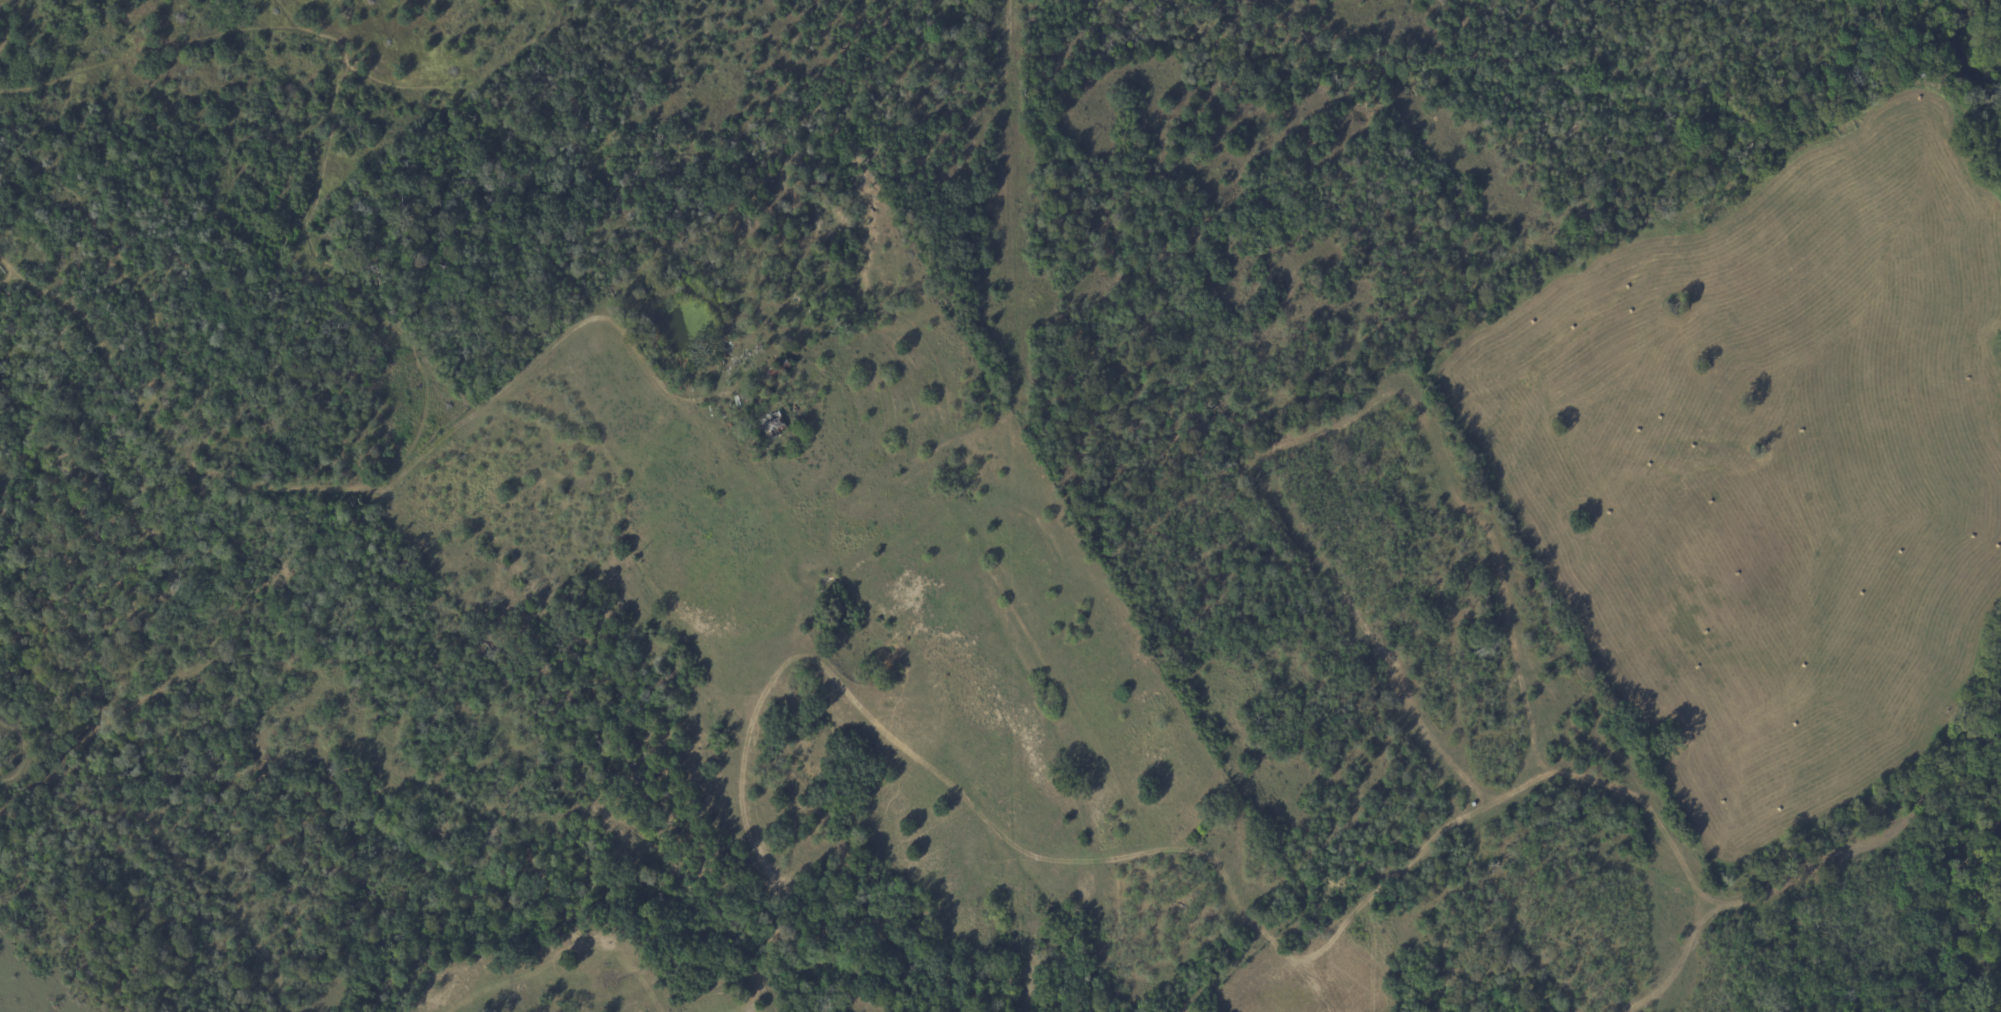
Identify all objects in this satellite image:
road: (359, 485)

